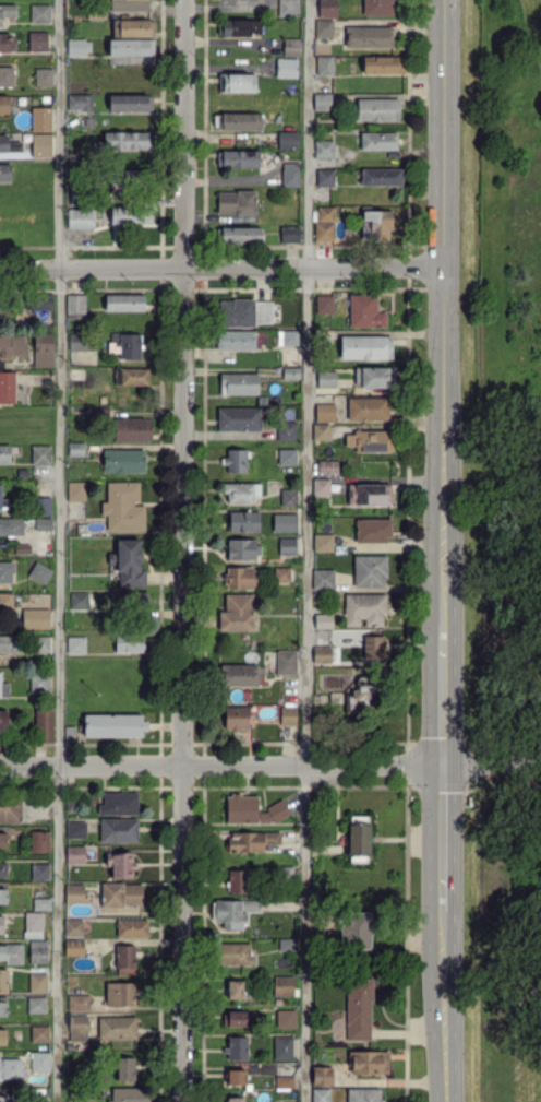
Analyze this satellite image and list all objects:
building: (128, 5)
building: (376, 7)
building: (288, 8)
building: (327, 8)
building: (7, 11)
building: (39, 13)
building: (132, 26)
building: (240, 26)
building: (323, 27)
building: (369, 36)
building: (38, 40)
road: (227, 40)
building: (5, 42)
building: (79, 46)
building: (131, 46)
building: (290, 46)
building: (324, 64)
building: (382, 64)
building: (286, 67)
building: (7, 75)
building: (43, 76)
building: (237, 82)
building: (322, 100)
building: (80, 102)
building: (130, 102)
building: (4, 103)
building: (377, 109)
building: (40, 118)
building: (237, 120)
building: (125, 140)
building: (287, 140)
building: (378, 140)
building: (9, 144)
building: (40, 144)
building: (323, 147)
building: (237, 158)
building: (5, 171)
building: (290, 174)
building: (125, 176)
building: (381, 176)
building: (324, 177)
building: (236, 202)
building: (130, 214)
building: (80, 217)
building: (324, 223)
building: (375, 225)
building: (289, 234)
building: (239, 235)
road: (220, 268)
building: (3, 301)
building: (38, 301)
building: (124, 301)
building: (75, 303)
building: (324, 304)
building: (244, 311)
building: (364, 311)
road: (443, 312)
building: (287, 337)
building: (236, 340)
building: (77, 341)
building: (13, 345)
building: (130, 345)
building: (365, 346)
building: (43, 349)
building: (290, 372)
building: (131, 376)
building: (374, 377)
building: (325, 378)
building: (238, 383)
building: (7, 387)
building: (368, 407)
building: (324, 412)
building: (238, 417)
building: (132, 429)
building: (286, 430)
building: (321, 431)
building: (75, 449)
building: (4, 453)
building: (40, 453)
building: (286, 455)
building: (236, 459)
building: (123, 461)
building: (326, 465)
building: (321, 486)
building: (75, 490)
building: (241, 491)
building: (370, 494)
building: (1, 495)
building: (288, 496)
building: (44, 505)
building: (123, 507)
building: (243, 520)
building: (285, 522)
building: (43, 523)
building: (11, 525)
building: (372, 530)
building: (322, 542)
park: (502, 544)
building: (287, 545)
building: (242, 548)
road: (58, 550)
road: (182, 550)
road: (305, 550)
building: (130, 562)
building: (370, 570)
building: (5, 571)
building: (39, 571)
building: (281, 573)
building: (240, 577)
building: (323, 579)
building: (79, 600)
building: (5, 601)
building: (364, 608)
building: (237, 613)
building: (36, 618)
building: (323, 620)
building: (8, 642)
building: (128, 642)
building: (39, 643)
building: (75, 644)
building: (372, 645)
building: (322, 653)
building: (286, 661)
building: (239, 675)
building: (39, 683)
building: (3, 688)
road: (442, 696)
building: (287, 714)
building: (236, 718)
building: (3, 720)
building: (44, 723)
building: (113, 725)
road: (491, 763)
road: (220, 766)
traffic signals: (442, 766)
building: (119, 803)
building: (10, 809)
building: (252, 809)
building: (75, 829)
building: (118, 829)
road: (442, 837)
building: (3, 839)
building: (358, 839)
building: (251, 840)
building: (39, 841)
building: (75, 854)
building: (122, 865)
building: (2, 869)
building: (39, 870)
building: (237, 880)
building: (74, 892)
building: (121, 893)
building: (2, 896)
building: (41, 903)
building: (233, 912)
building: (1, 924)
building: (33, 924)
building: (73, 926)
building: (132, 927)
building: (356, 929)
building: (287, 944)
building: (73, 947)
building: (38, 951)
building: (11, 952)
building: (237, 952)
building: (124, 959)
building: (3, 980)
building: (37, 982)
building: (282, 985)
building: (235, 988)
building: (120, 993)
building: (77, 1002)
building: (36, 1004)
road: (444, 1005)
building: (2, 1008)
building: (358, 1008)
building: (233, 1018)
building: (285, 1018)
road: (517, 1020)
building: (77, 1027)
building: (117, 1027)
building: (39, 1033)
building: (2, 1035)
building: (237, 1046)
building: (282, 1047)
building: (39, 1062)
building: (369, 1062)
building: (11, 1067)
building: (124, 1068)
building: (321, 1075)
building: (236, 1076)
building: (284, 1081)
building: (129, 1094)
building: (321, 1094)
building: (364, 1094)
building: (3, 1098)
building: (233, 1099)

